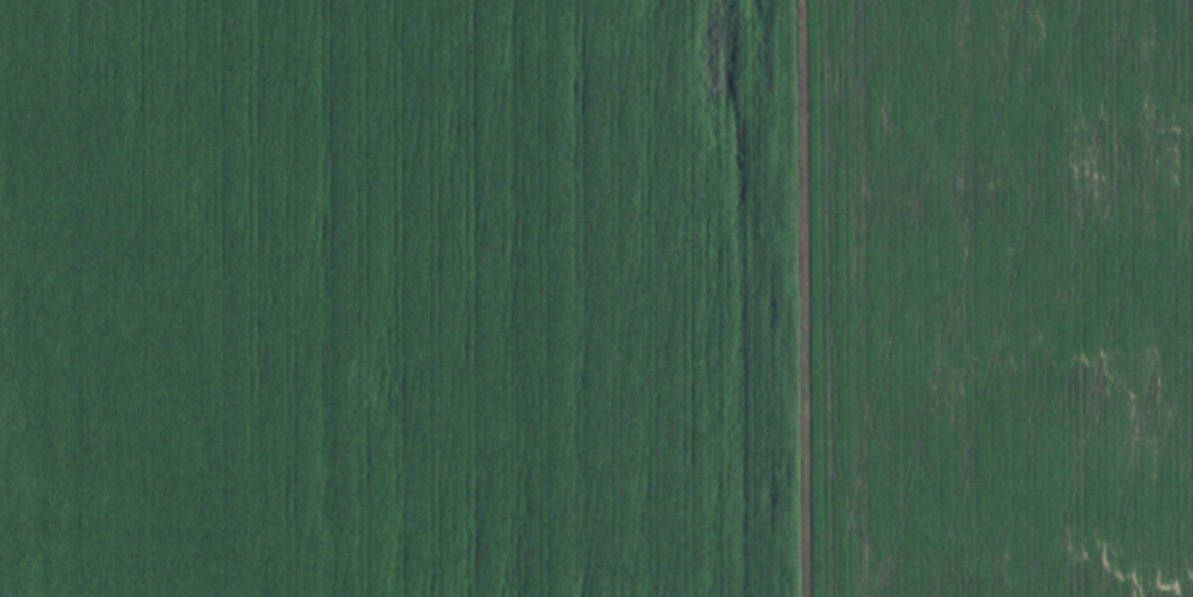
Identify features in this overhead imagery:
crop: (596, 298)

